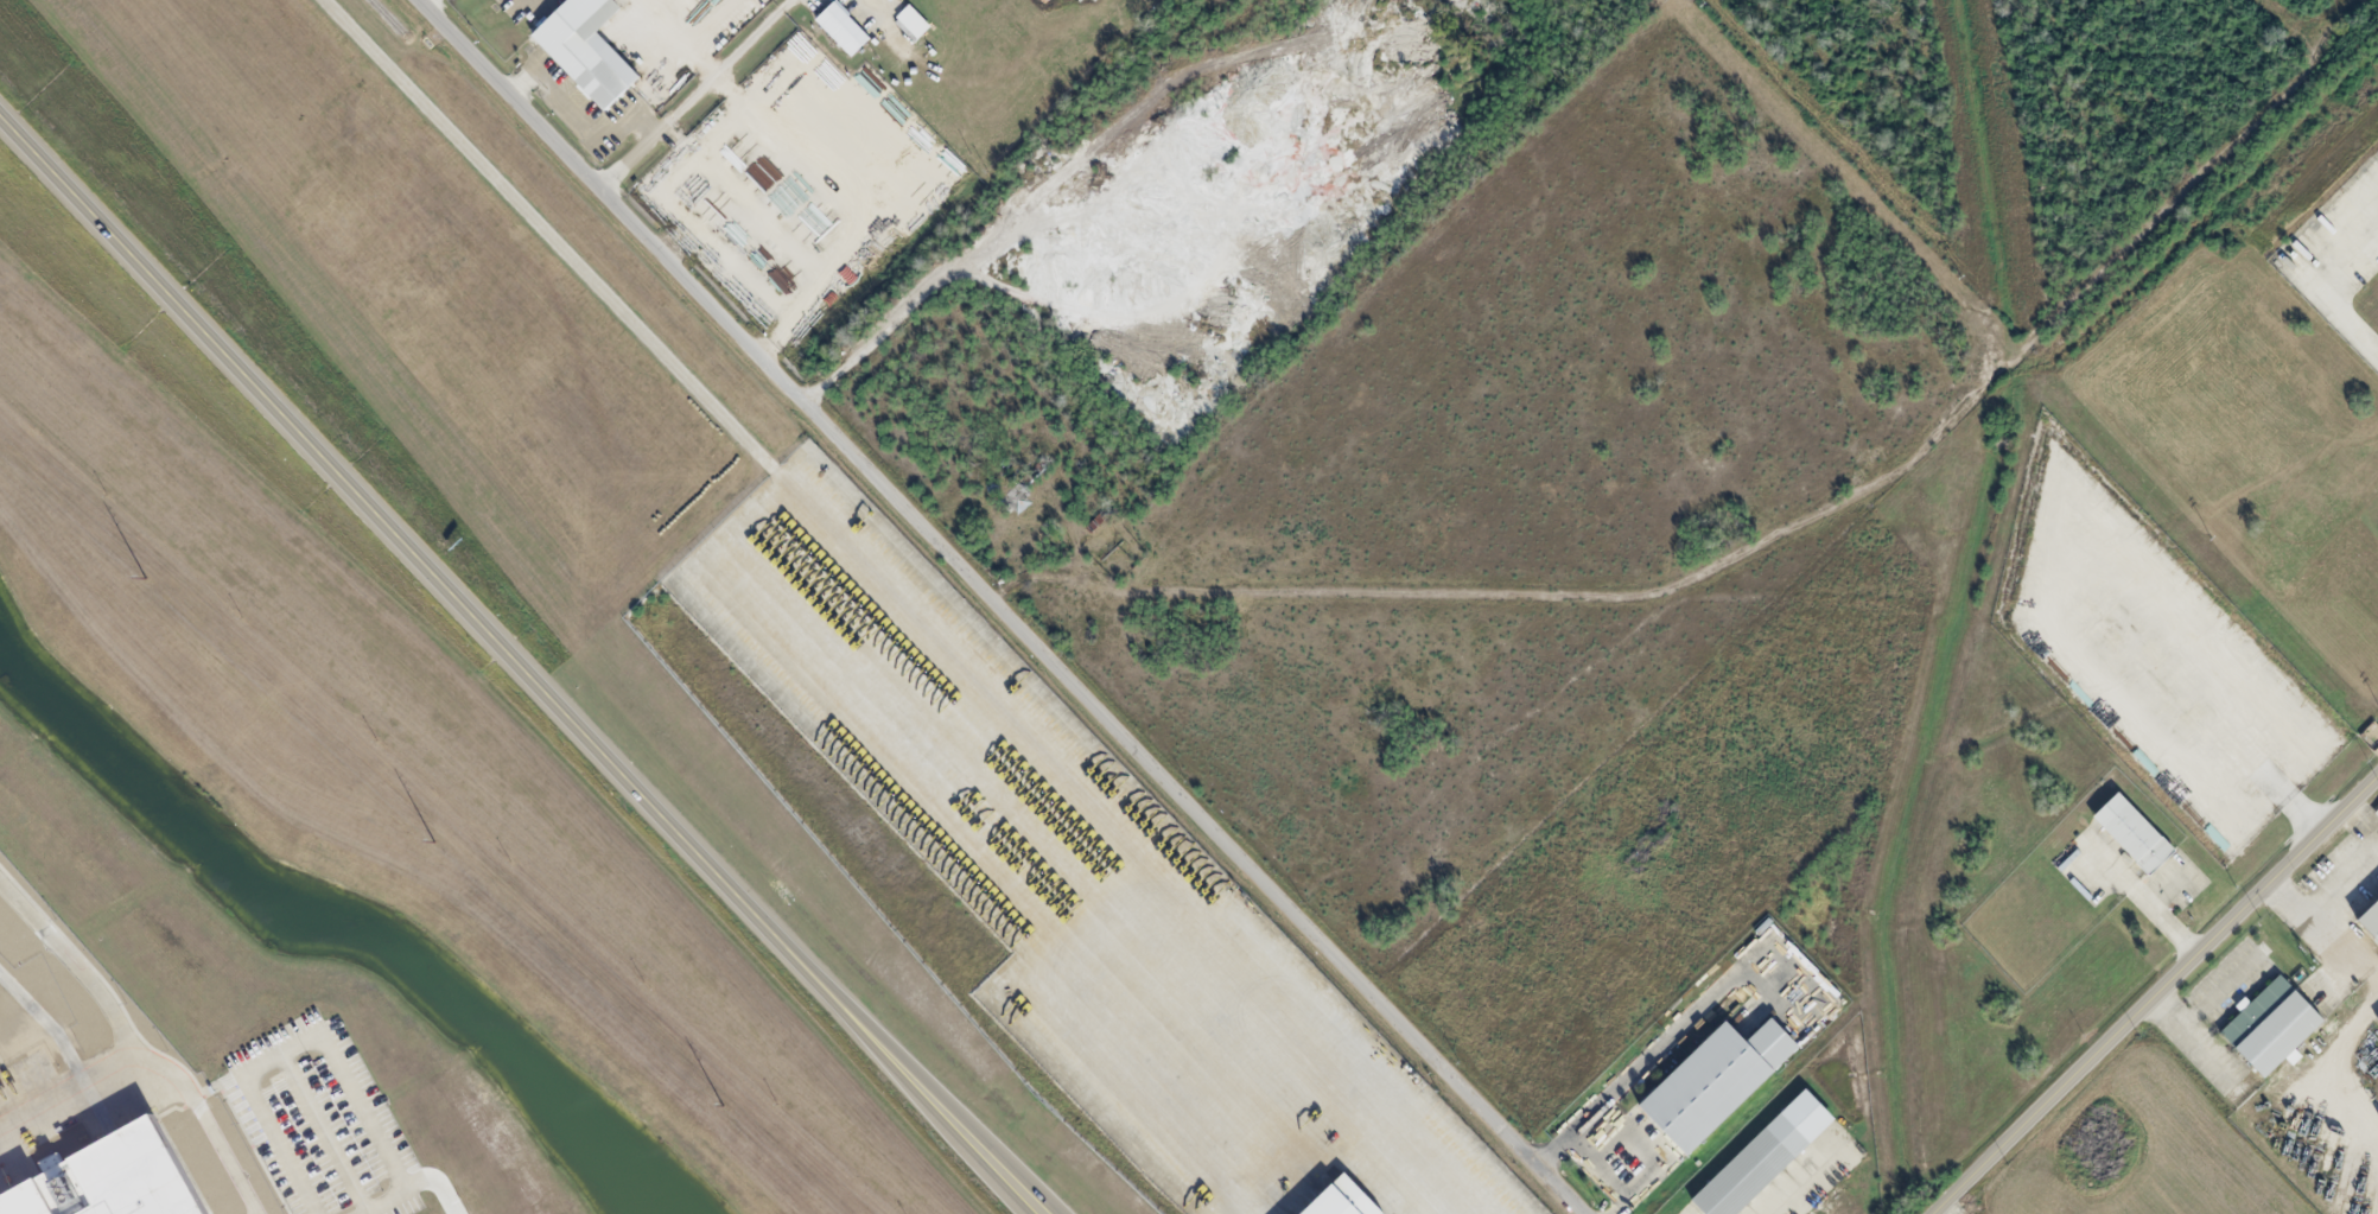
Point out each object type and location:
building: (911, 21)
building: (839, 28)
building: (581, 49)
road: (689, 94)
road: (549, 231)
road: (999, 608)
road: (520, 666)
building: (2376, 813)
building: (2129, 833)
building: (2371, 921)
road: (2158, 997)
building: (2268, 1027)
building: (1705, 1085)
building: (1760, 1157)
building: (97, 1176)
building: (1342, 1200)

